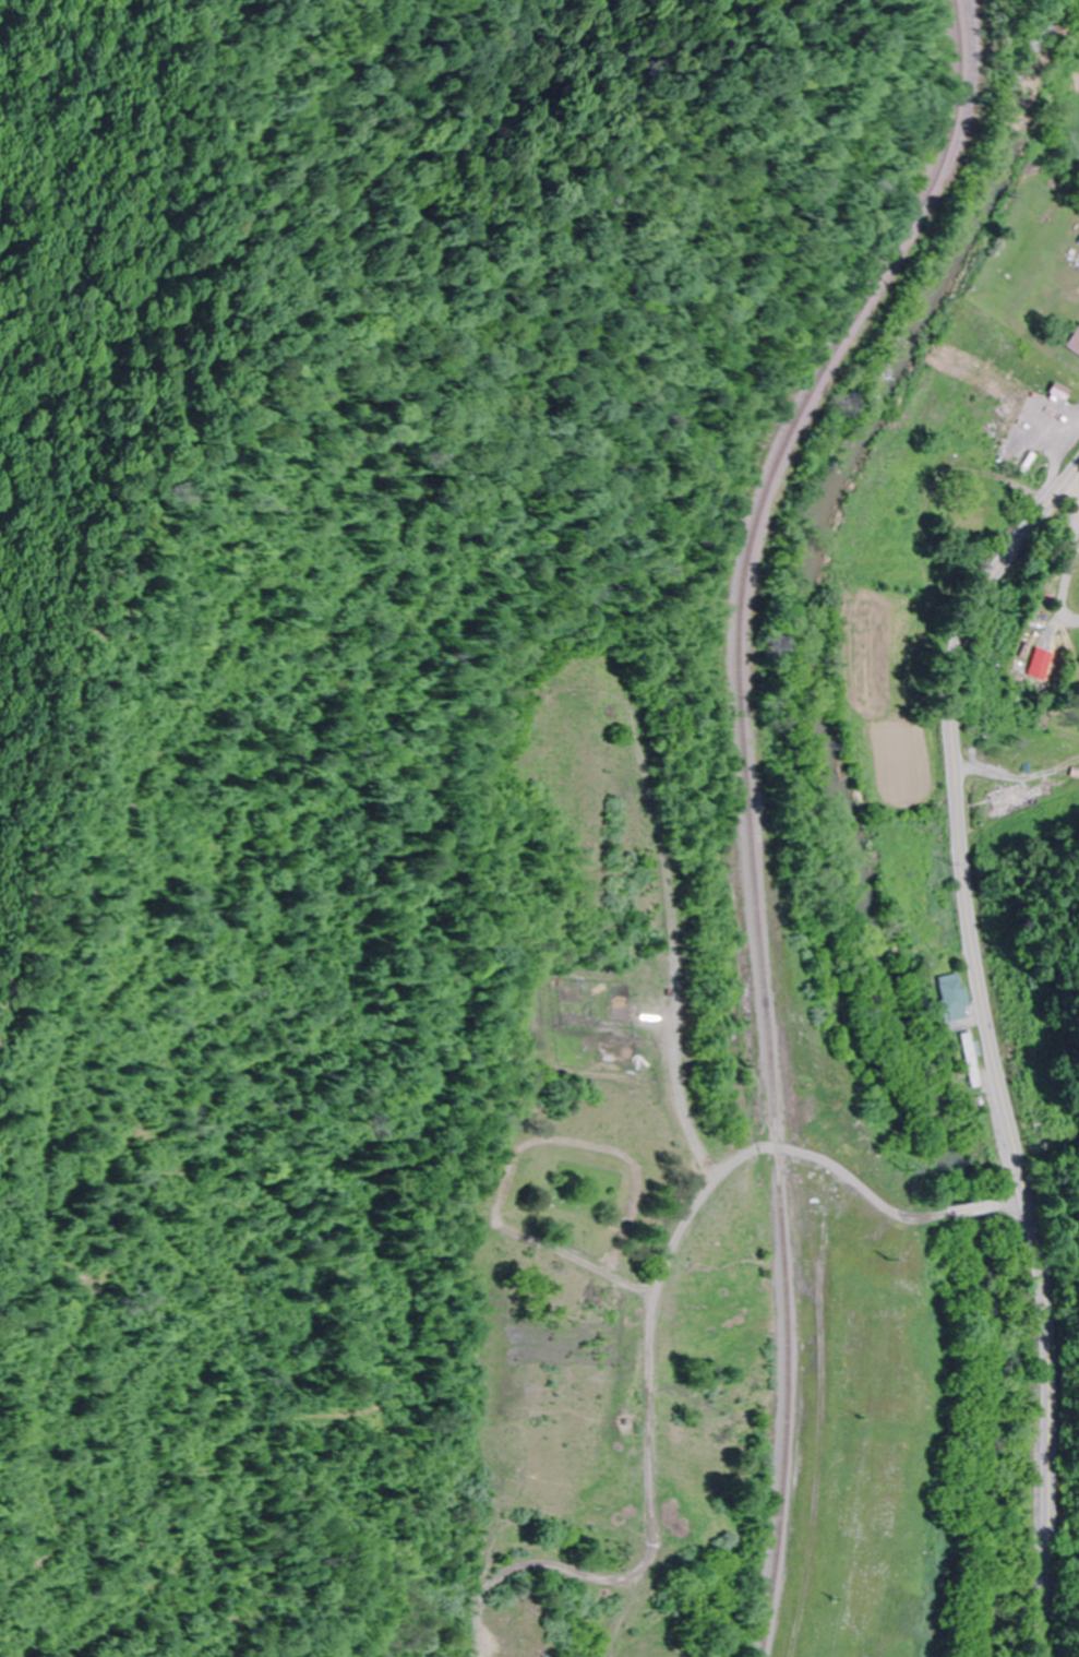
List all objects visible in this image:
building: (1077, 341)
building: (1053, 383)
building: (996, 427)
building: (974, 517)
building: (1011, 800)
railway: (751, 803)
river: (834, 806)
building: (951, 998)
road: (992, 1045)
building: (969, 1060)
road: (706, 1187)
park: (571, 1196)
road: (1012, 1200)
road: (973, 1206)

